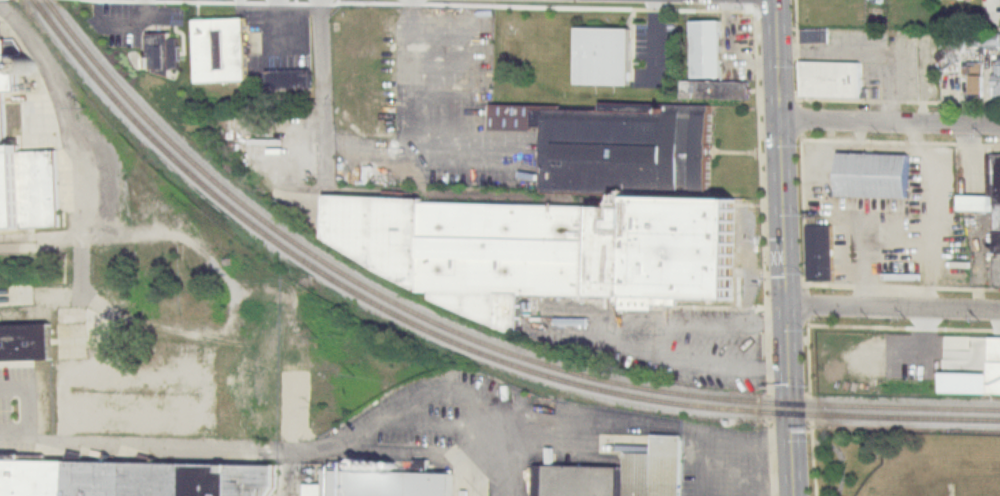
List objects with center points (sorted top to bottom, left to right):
building: (815, 35)
building: (980, 38)
building: (709, 47)
building: (221, 49)
building: (159, 50)
building: (606, 55)
road: (320, 71)
building: (998, 75)
building: (832, 77)
building: (290, 78)
building: (977, 81)
building: (716, 88)
road: (441, 93)
road: (889, 123)
road: (72, 139)
road: (420, 146)
building: (23, 171)
building: (876, 174)
road: (782, 206)
building: (987, 209)
building: (568, 217)
building: (821, 252)
road: (893, 310)
railway: (466, 334)
road: (609, 334)
building: (27, 340)
railway: (456, 343)
building: (996, 366)
building: (895, 382)
road: (26, 404)
road: (692, 433)
road: (350, 438)
road: (716, 438)
road: (504, 450)
road: (427, 453)
road: (789, 454)
building: (617, 474)
building: (130, 478)
building: (382, 483)

